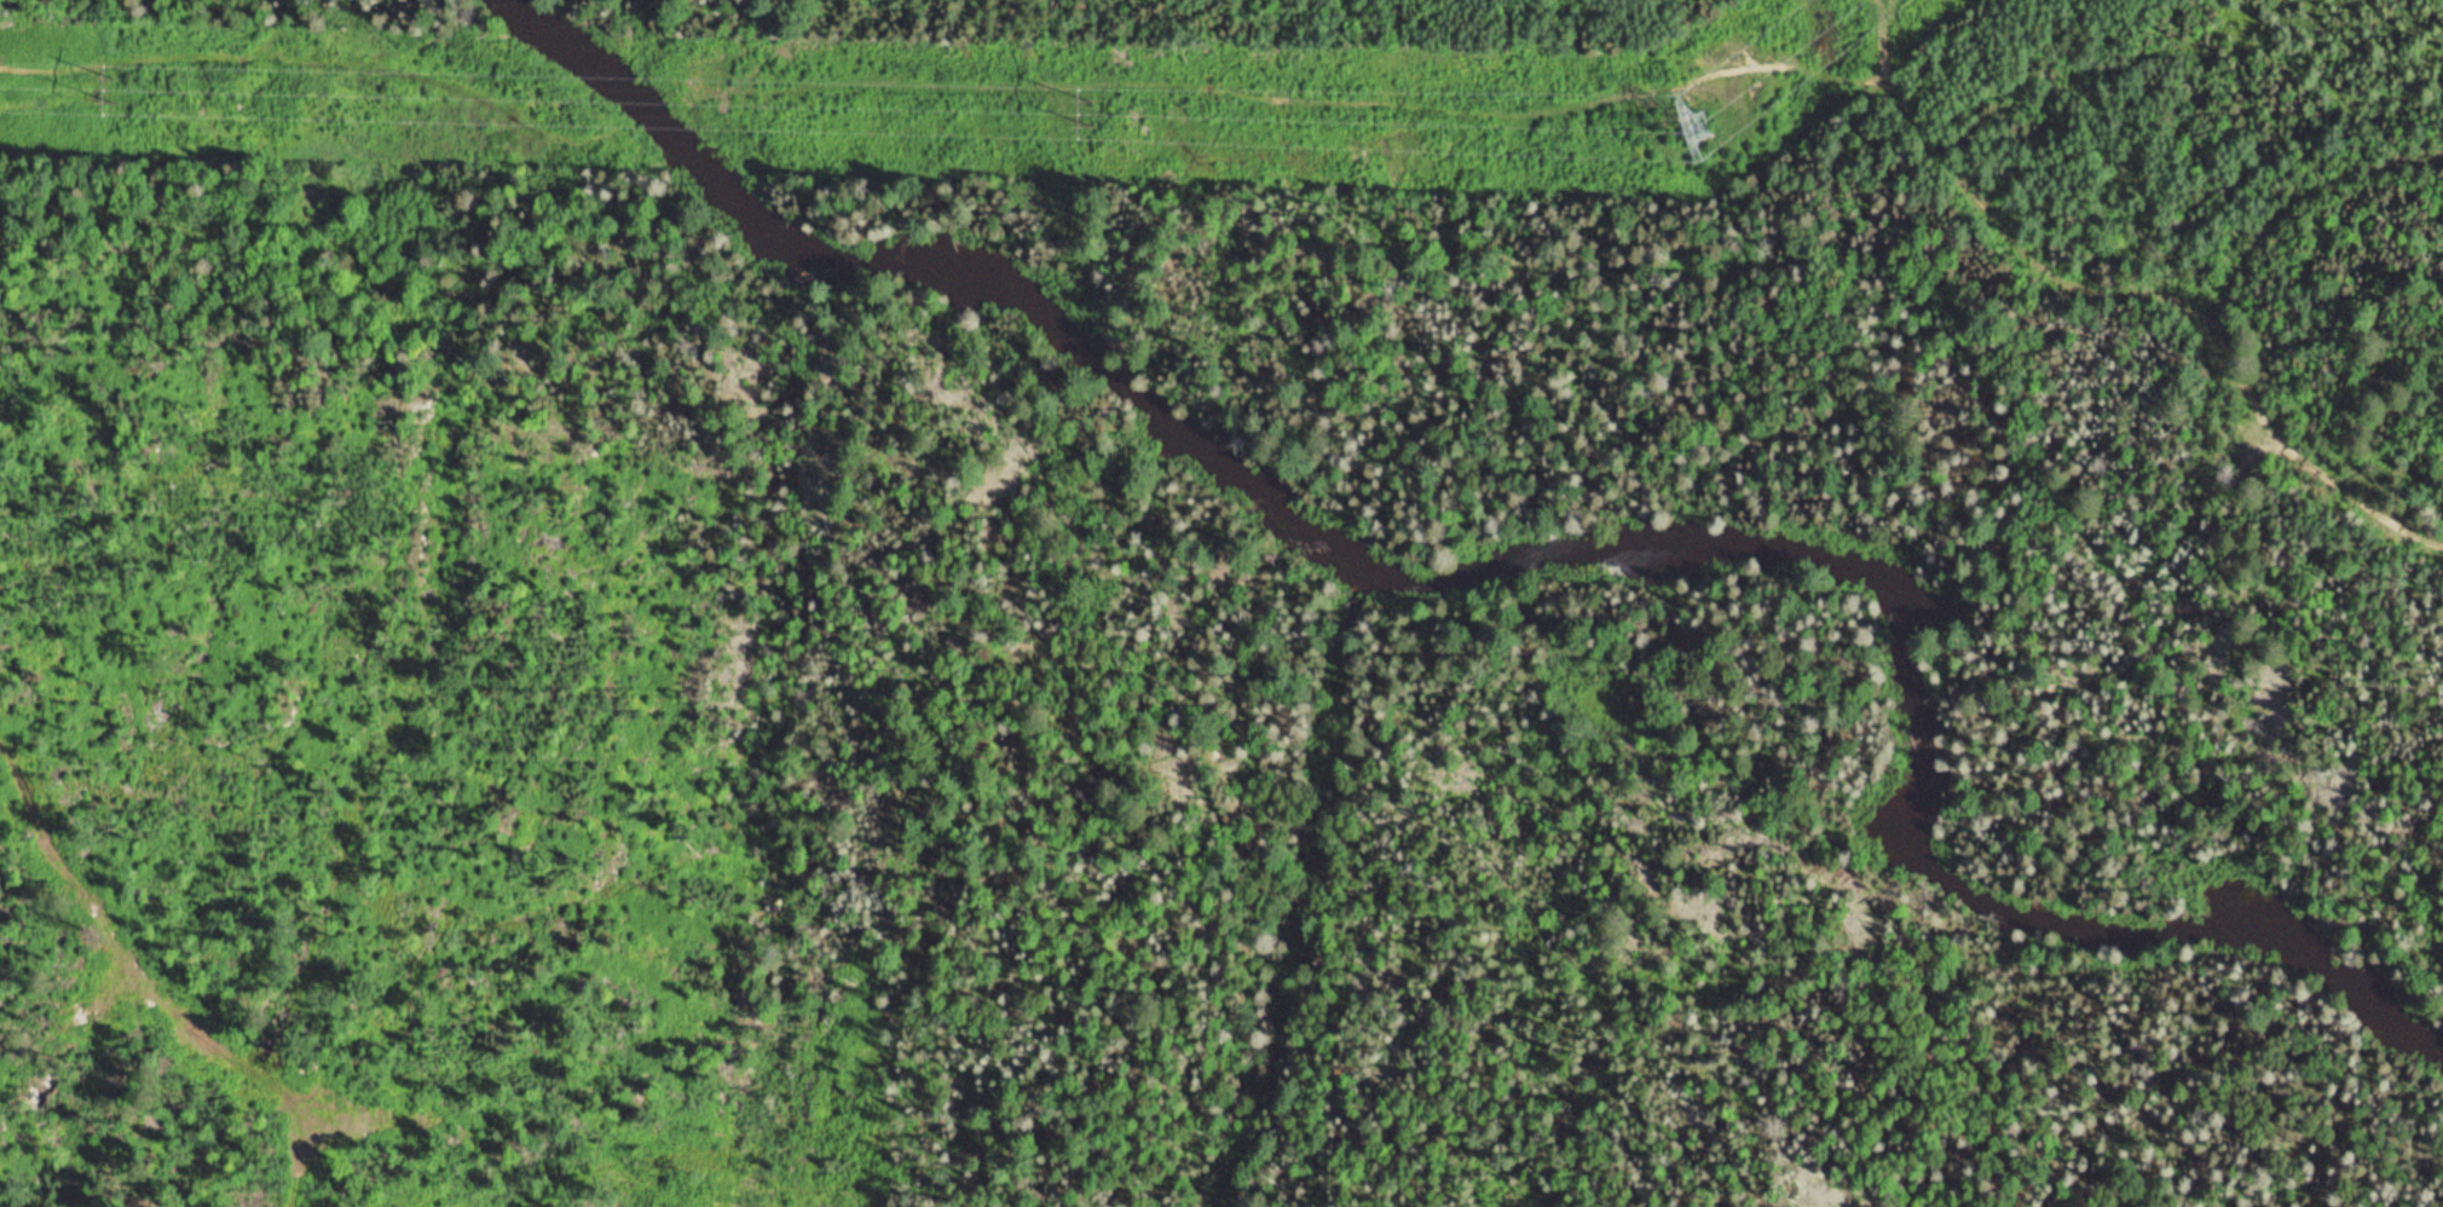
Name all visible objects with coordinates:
power tower: (115, 83)
power tower: (1092, 110)
power tower: (1693, 127)
river: (1012, 279)
river: (1996, 704)

